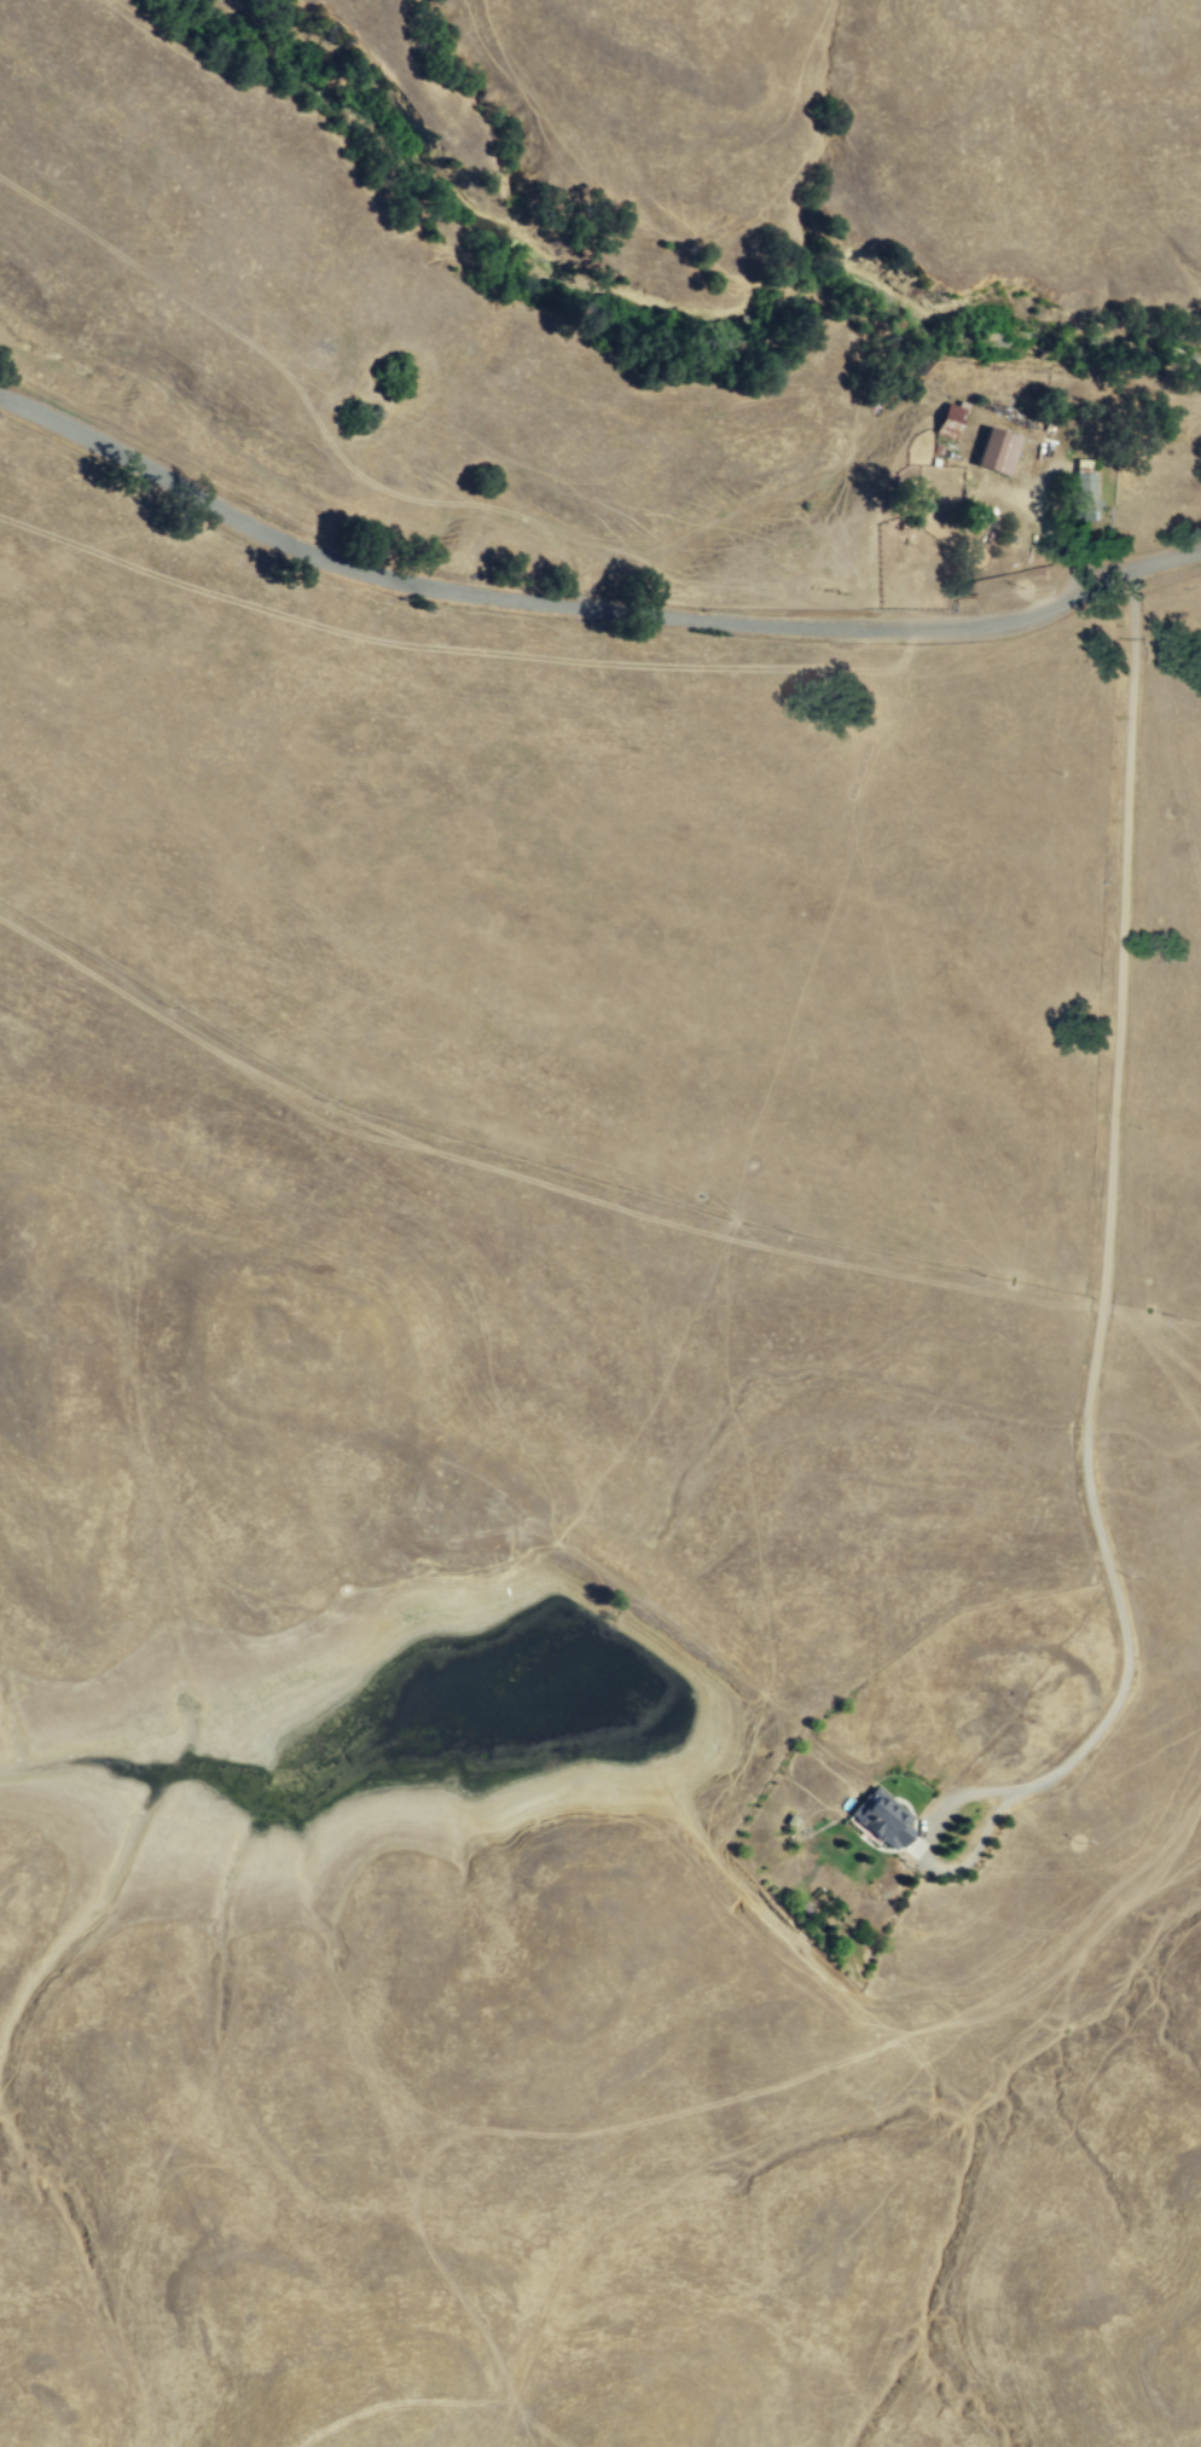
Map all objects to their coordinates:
river: (644, 307)
building: (997, 452)
road: (586, 609)
dam: (638, 1628)
building: (882, 1819)

